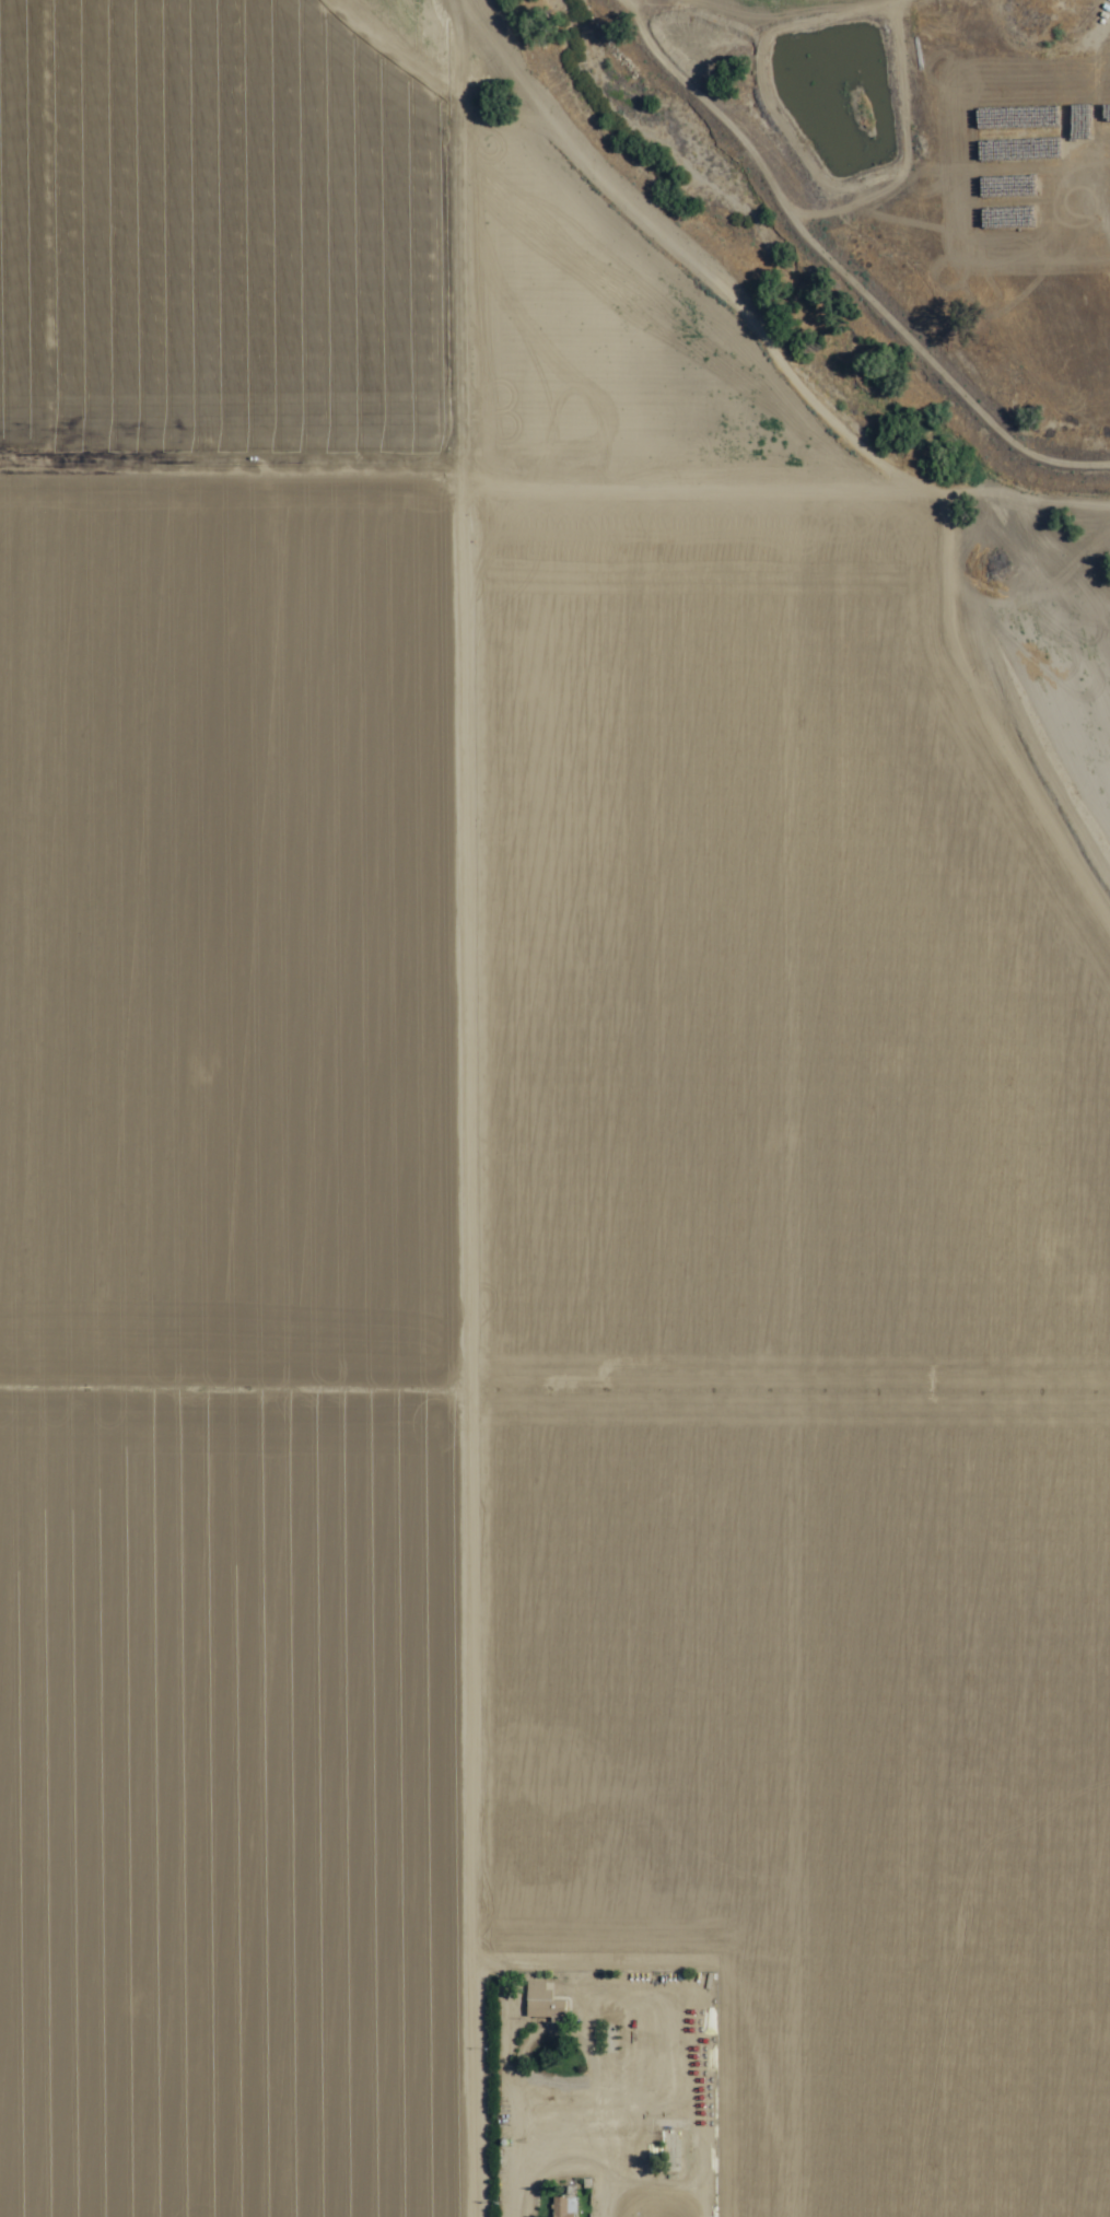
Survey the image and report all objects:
crop: (927, 187)
road: (779, 498)
road: (972, 829)
road: (444, 1108)
crop: (509, 1247)
building: (541, 2004)
building: (562, 2207)
wastewater plant: (653, 2207)

